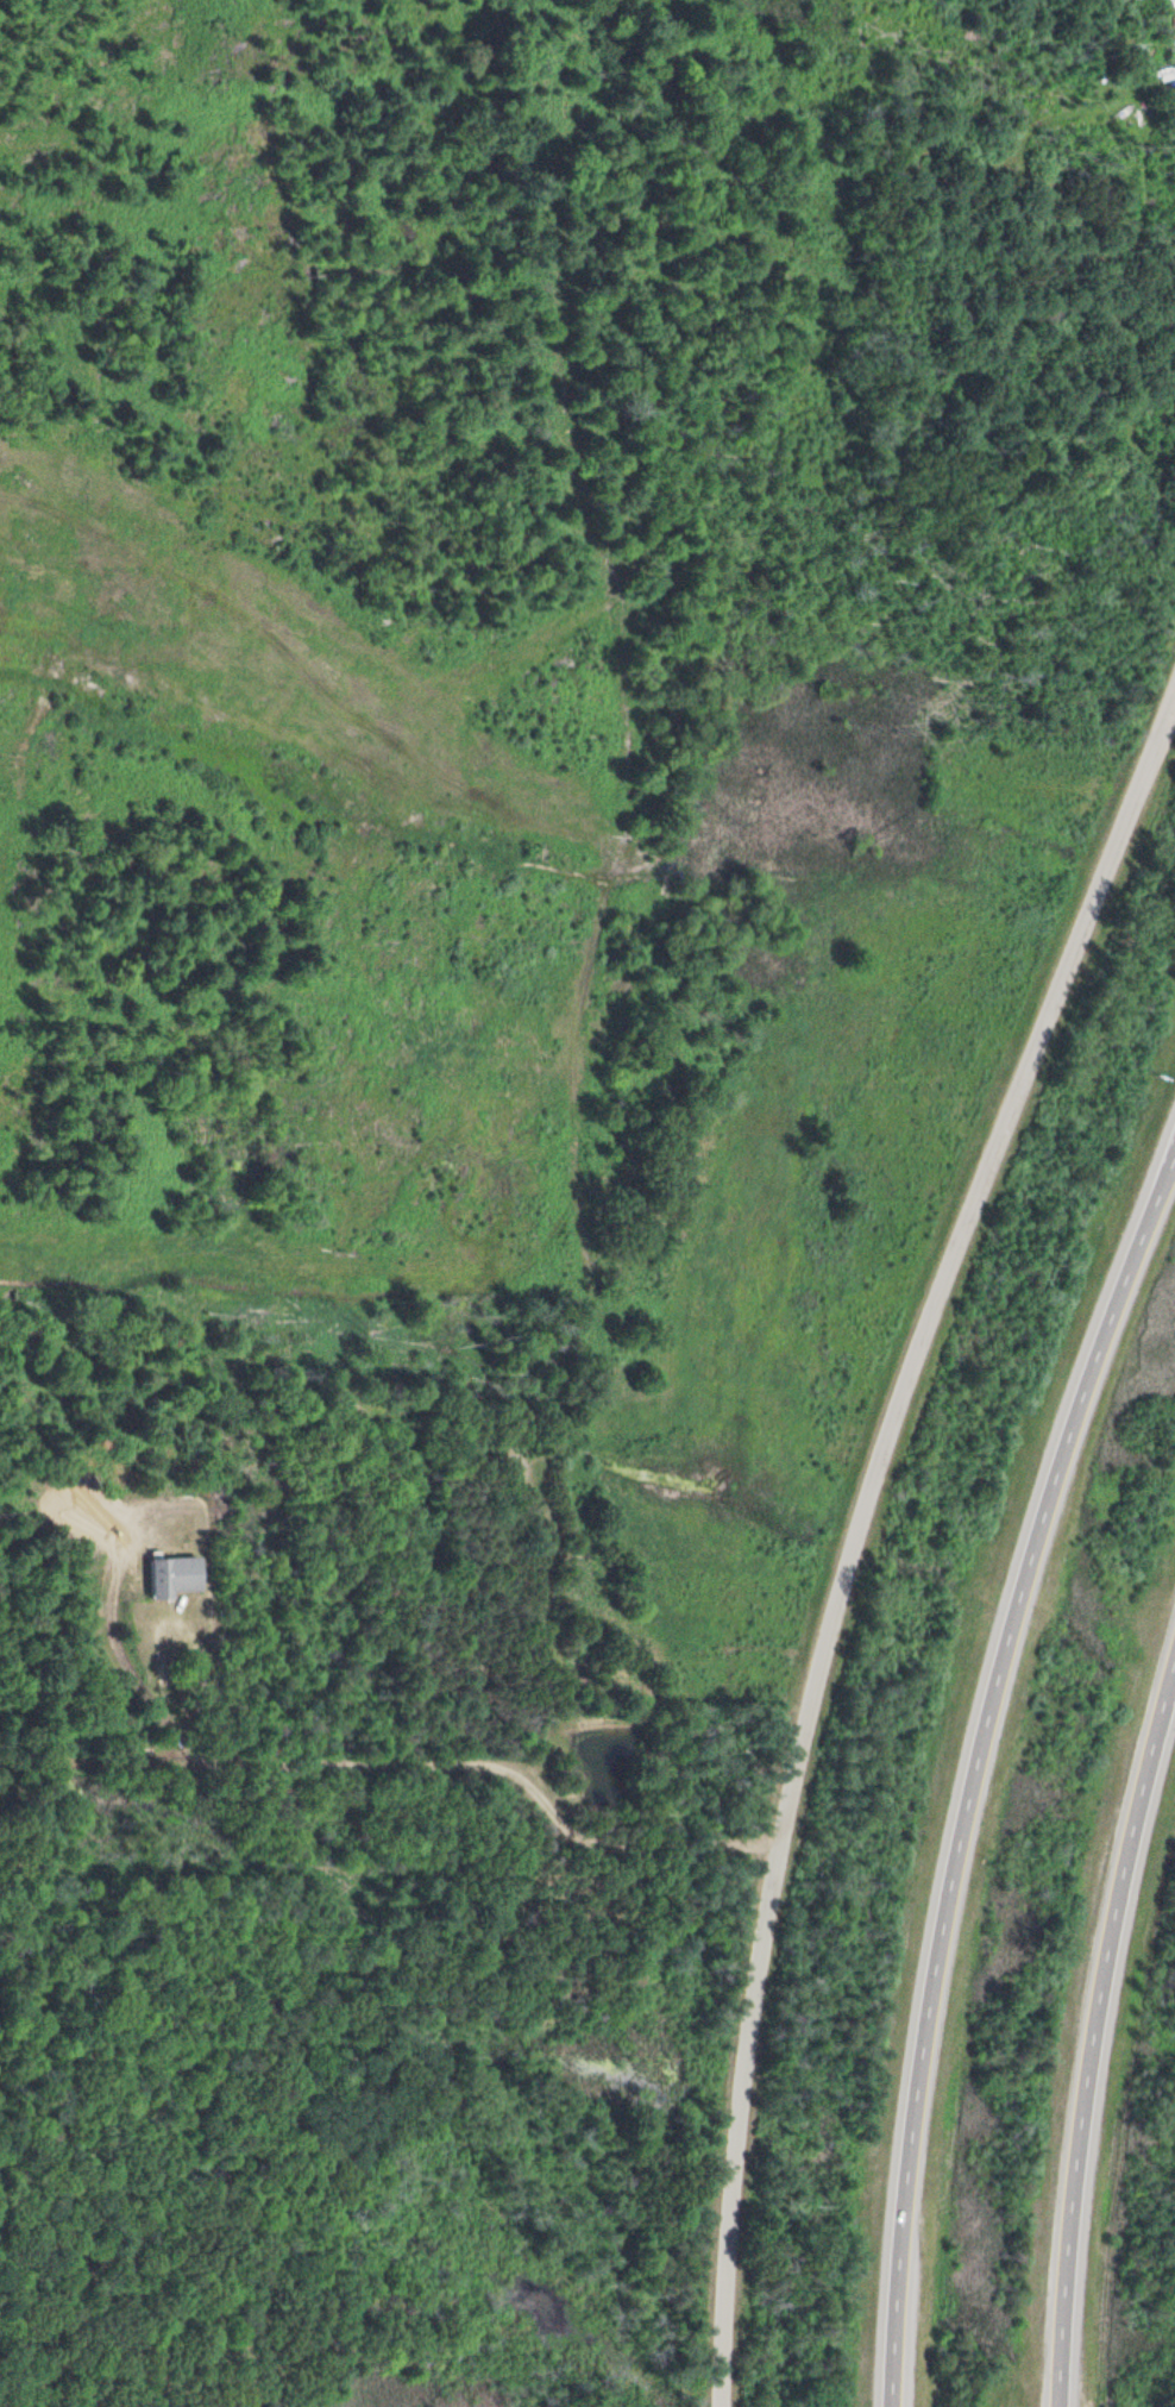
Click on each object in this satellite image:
road: (841, 1507)
building: (166, 1578)
road: (954, 1763)
road: (373, 1901)
road: (1095, 2029)

